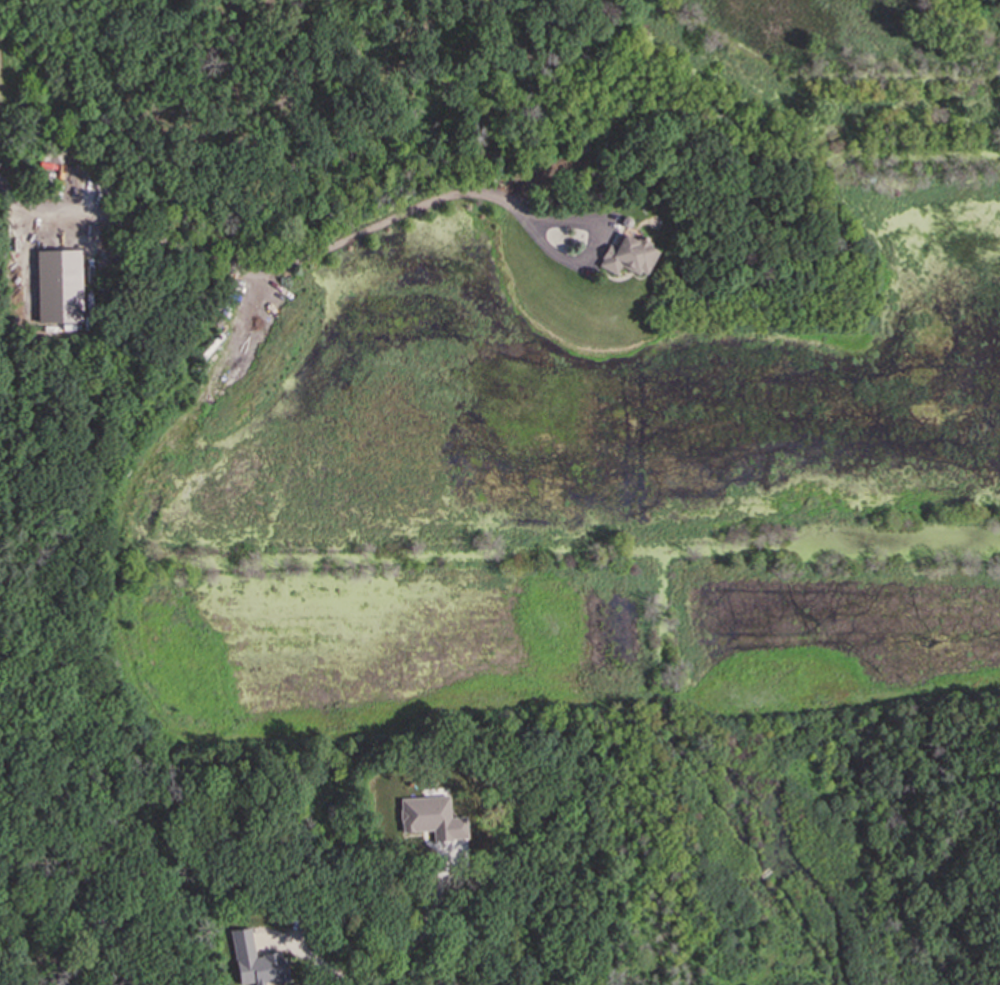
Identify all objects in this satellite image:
road: (416, 211)
building: (631, 258)
building: (59, 288)
road: (256, 313)
road: (2, 976)

